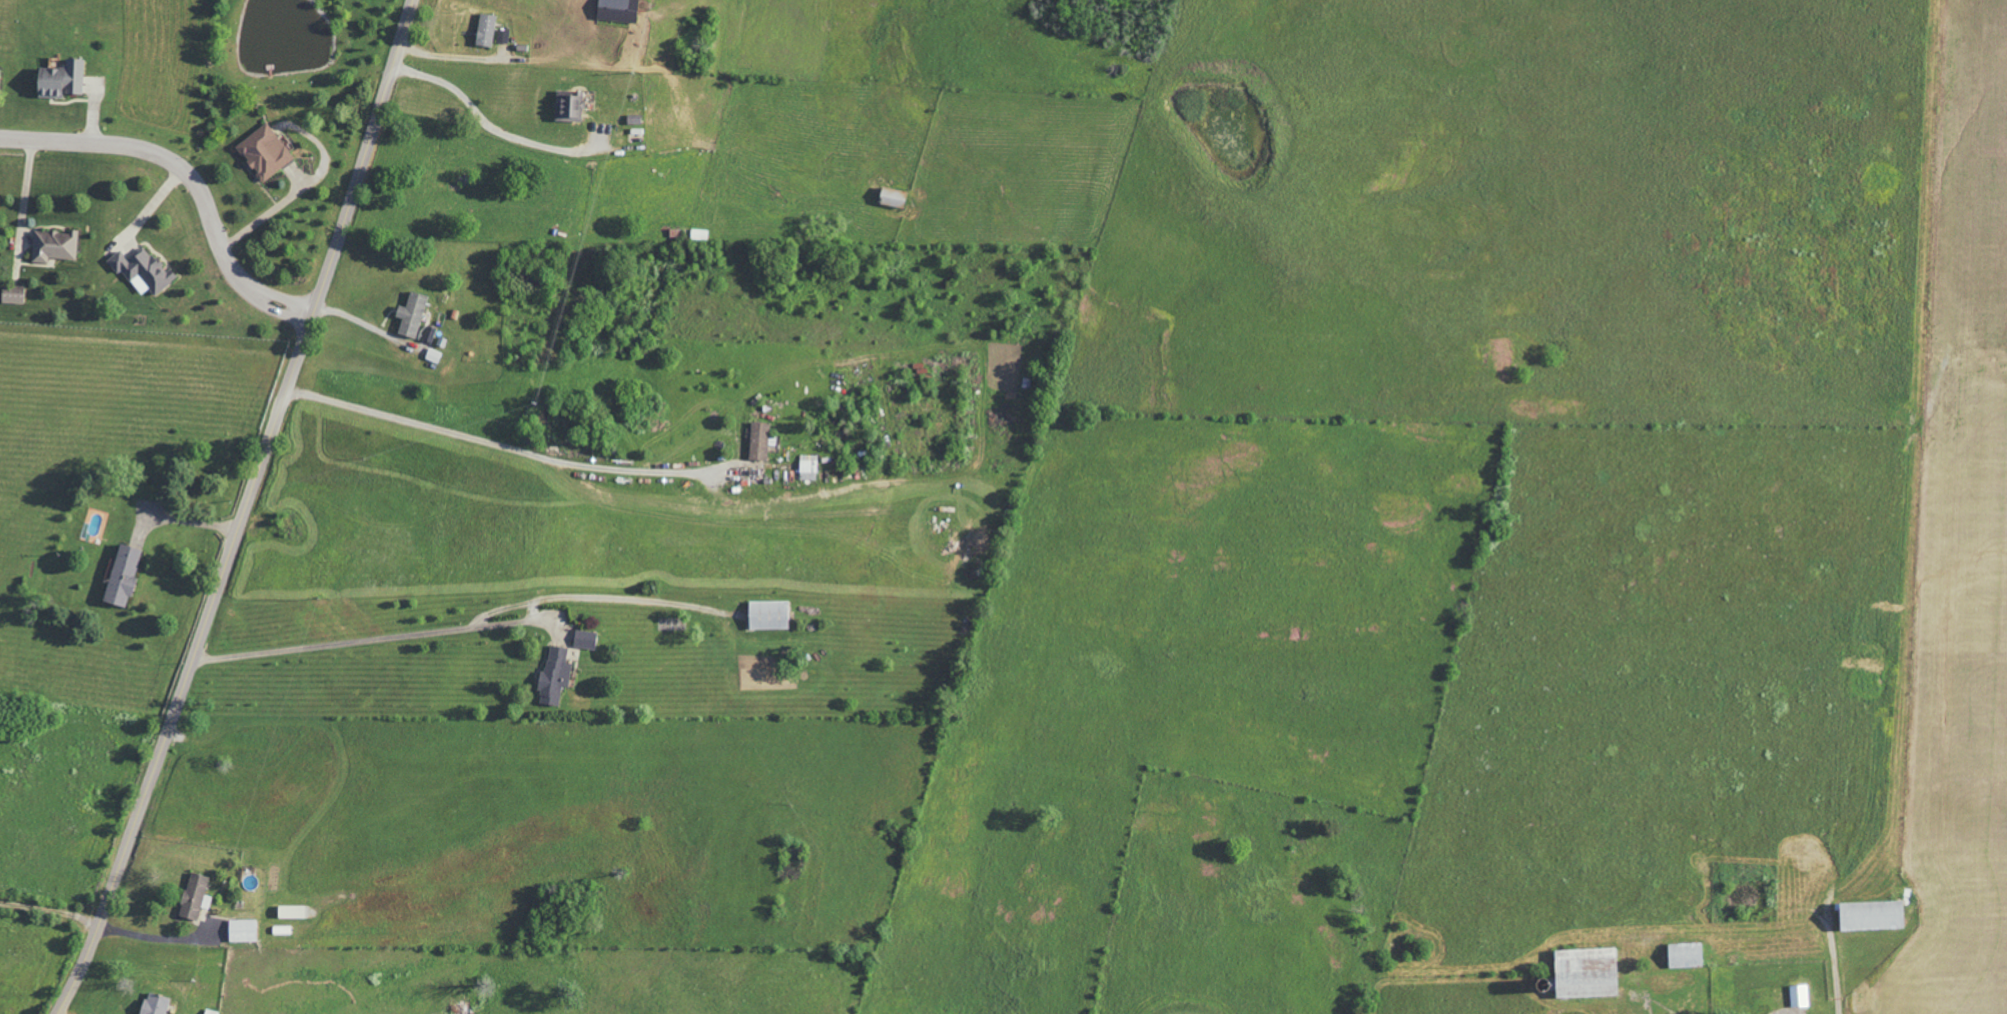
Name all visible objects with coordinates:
building: (616, 10)
building: (483, 29)
building: (501, 36)
building: (58, 79)
building: (567, 105)
road: (486, 122)
building: (263, 152)
road: (190, 175)
road: (293, 196)
building: (891, 196)
building: (52, 245)
building: (141, 270)
building: (11, 294)
building: (409, 314)
building: (757, 441)
road: (501, 446)
building: (807, 466)
road: (245, 510)
building: (120, 575)
building: (766, 614)
road: (511, 622)
road: (466, 627)
building: (583, 639)
building: (553, 676)
building: (193, 897)
building: (1909, 899)
building: (288, 912)
building: (1868, 916)
building: (240, 930)
road: (158, 940)
building: (1683, 955)
building: (1583, 973)
road: (1837, 975)
building: (1797, 996)
building: (153, 1004)

